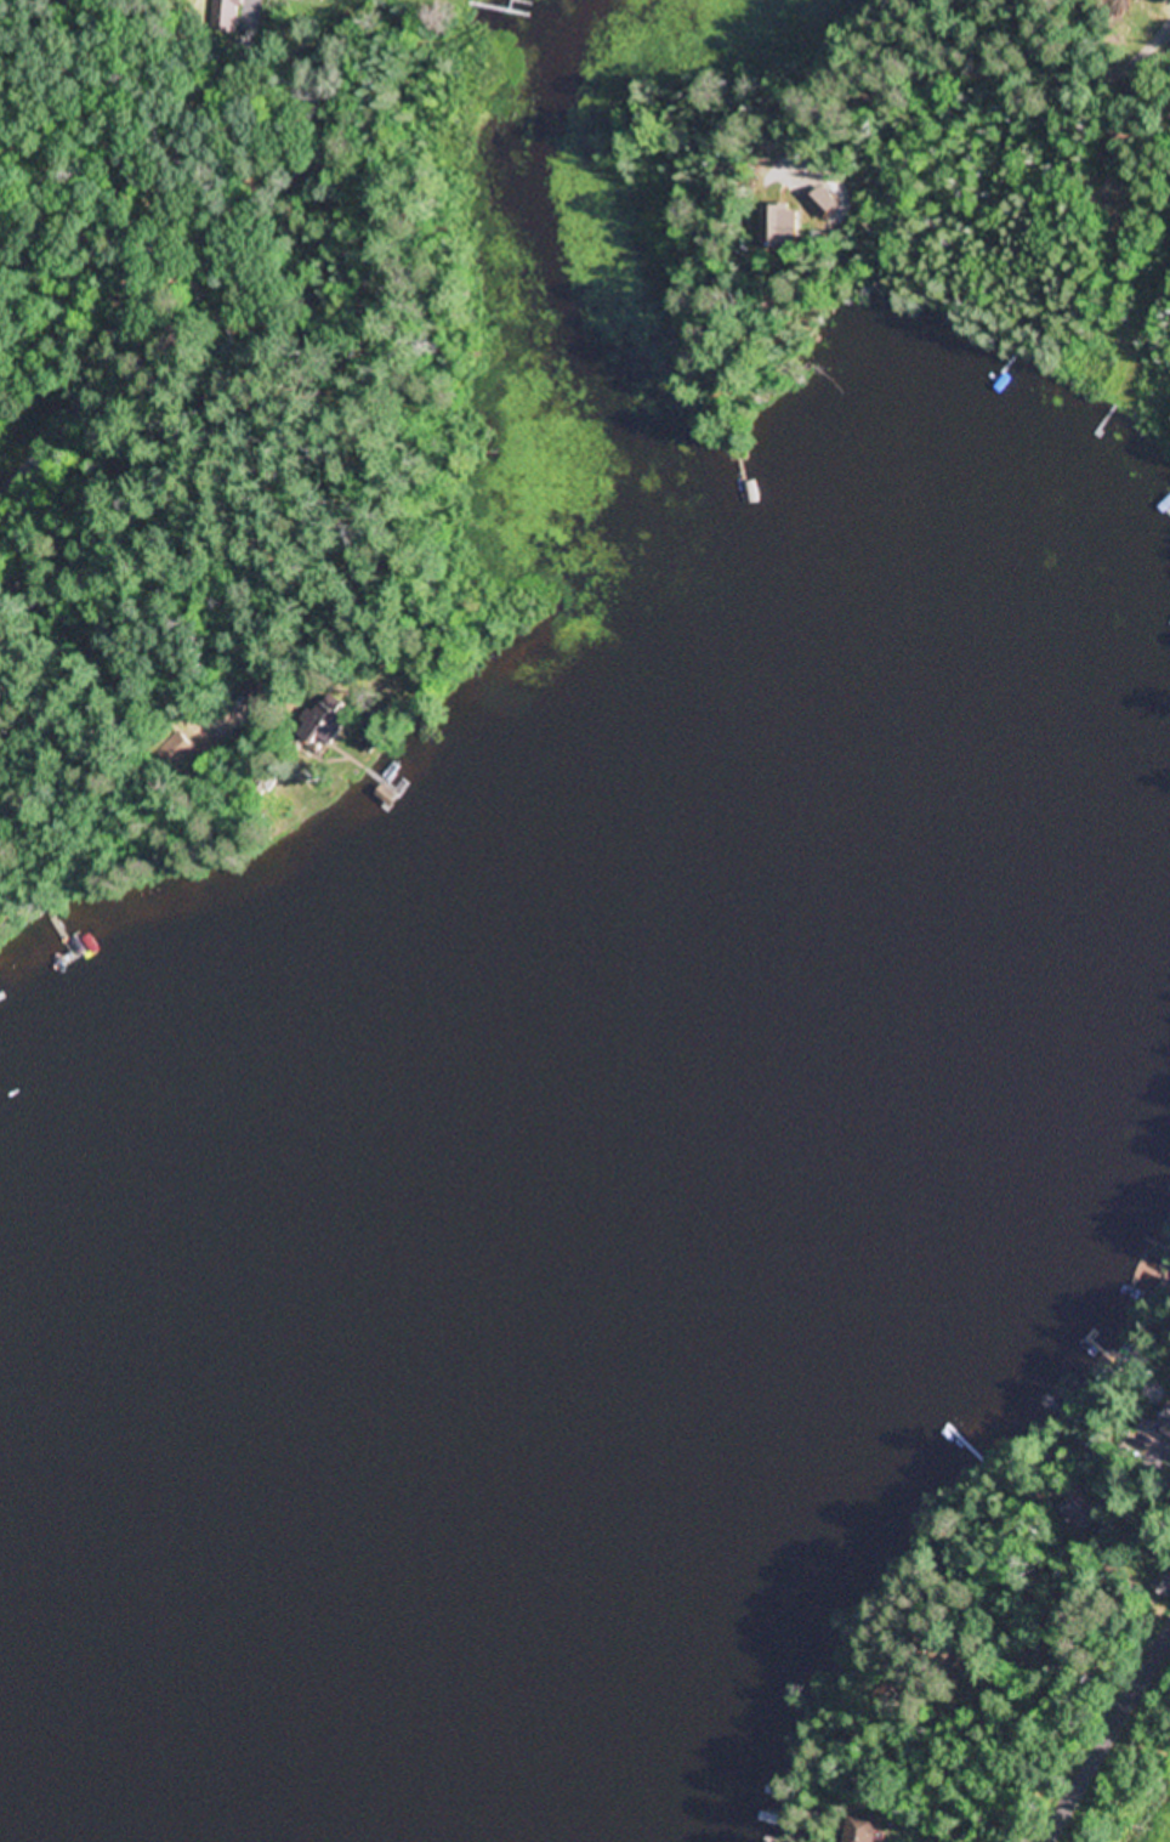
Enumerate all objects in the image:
building: (222, 16)
road: (148, 257)
road: (106, 668)
building: (326, 726)
building: (182, 752)
building: (1, 823)
building: (1165, 1424)
building: (1083, 1517)
building: (1164, 1582)
road: (1108, 1736)
building: (864, 1829)

